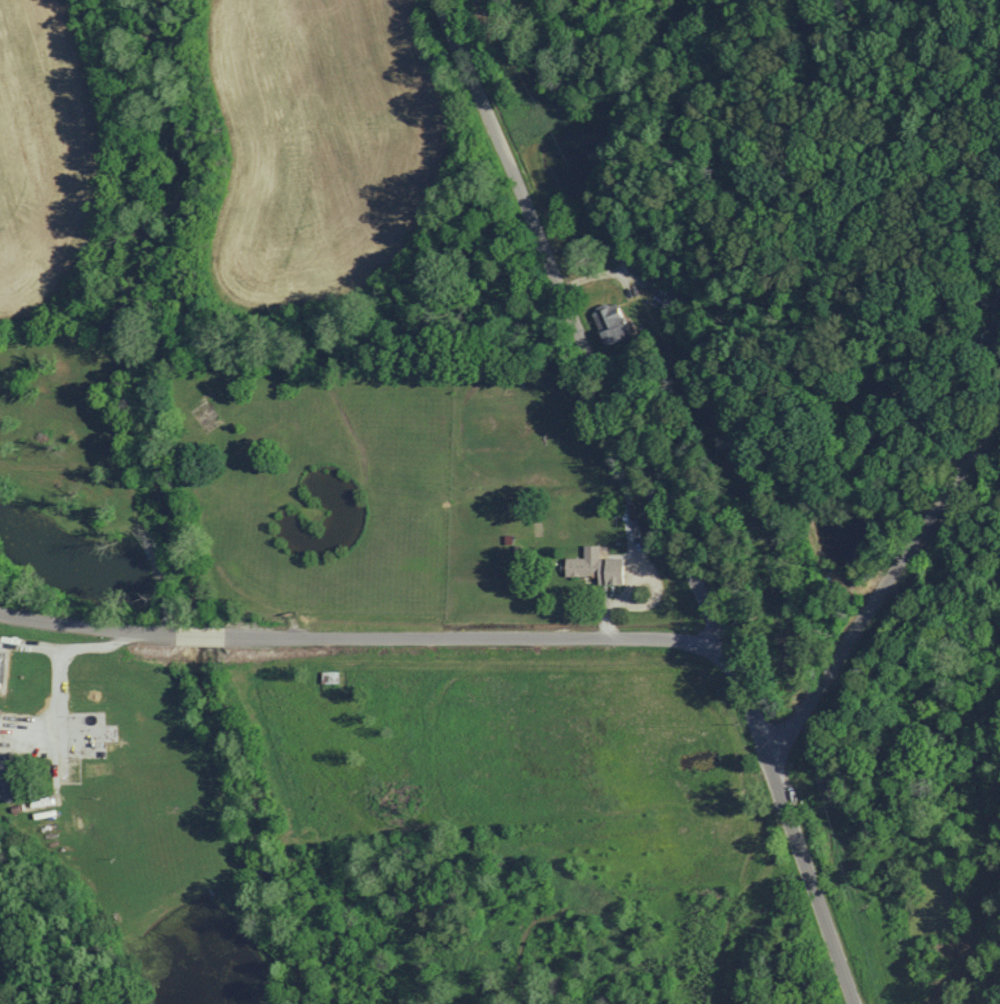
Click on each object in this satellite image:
building: (610, 323)
road: (130, 488)
road: (654, 498)
road: (215, 543)
building: (596, 566)
road: (888, 572)
road: (361, 638)
road: (78, 642)
building: (1, 671)
road: (58, 720)
building: (4, 781)
road: (991, 990)

